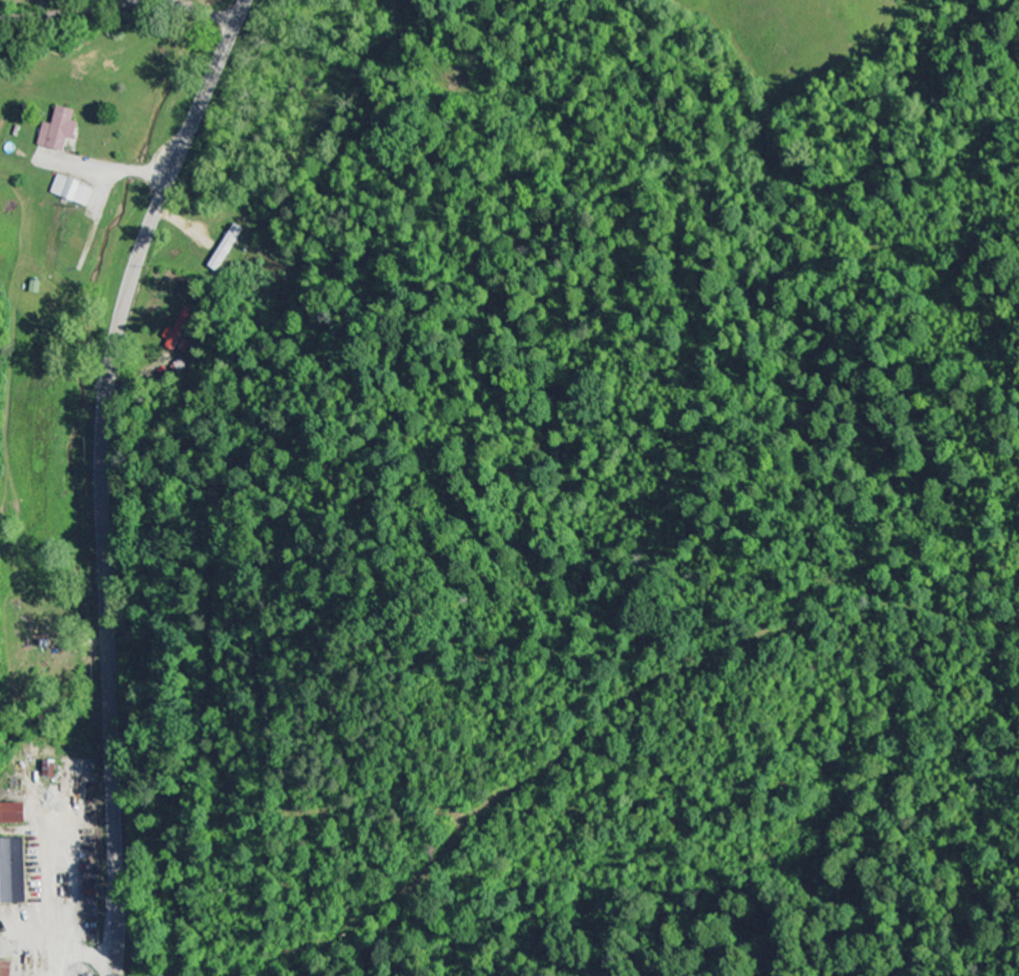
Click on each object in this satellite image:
road: (119, 3)
road: (234, 10)
building: (61, 130)
building: (74, 191)
building: (37, 287)
building: (178, 332)
building: (184, 347)
road: (101, 475)
building: (52, 770)
building: (18, 814)
building: (13, 872)

